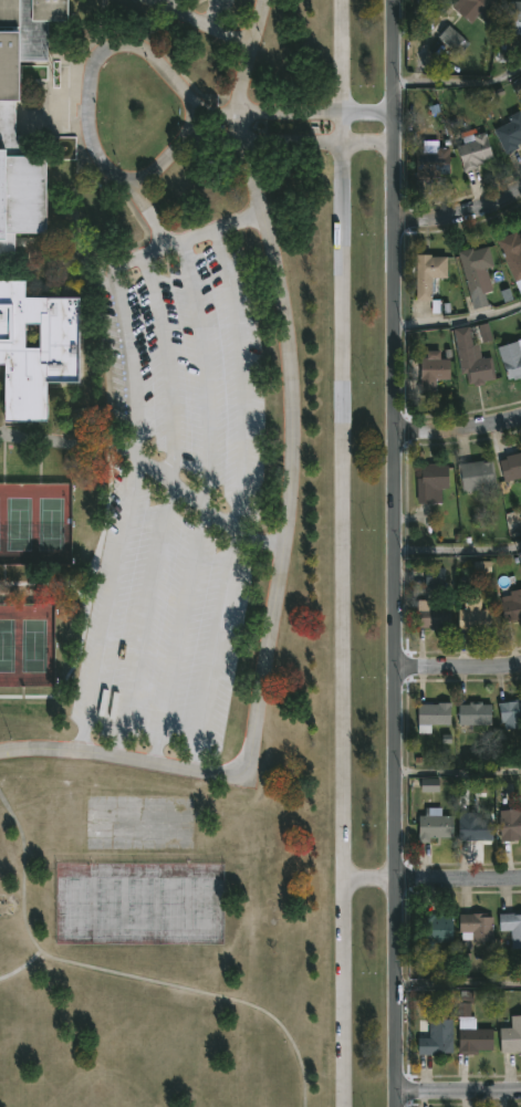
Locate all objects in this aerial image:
road: (174, 6)
building: (477, 7)
parking lot: (206, 13)
road: (207, 13)
building: (514, 17)
road: (199, 24)
building: (452, 39)
road: (395, 55)
road: (342, 72)
road: (458, 82)
road: (90, 101)
road: (291, 107)
building: (8, 118)
road: (183, 119)
building: (509, 133)
road: (260, 138)
road: (368, 145)
building: (472, 150)
building: (429, 161)
road: (147, 209)
road: (459, 217)
road: (192, 236)
building: (511, 252)
building: (473, 272)
building: (427, 276)
road: (459, 317)
building: (35, 351)
building: (470, 358)
building: (511, 358)
building: (430, 372)
road: (458, 428)
building: (510, 466)
road: (154, 472)
building: (475, 476)
building: (431, 481)
road: (242, 499)
parking lot: (178, 503)
road: (125, 510)
road: (294, 510)
park: (18, 525)
park: (50, 526)
road: (459, 557)
building: (435, 578)
road: (29, 582)
building: (511, 605)
road: (397, 609)
building: (472, 615)
building: (430, 617)
road: (344, 625)
park: (7, 648)
park: (33, 648)
road: (458, 666)
building: (433, 712)
building: (510, 712)
building: (472, 713)
road: (155, 728)
road: (157, 746)
road: (458, 773)
building: (510, 823)
building: (434, 824)
building: (473, 828)
road: (434, 879)
park: (173, 900)
park: (72, 901)
park: (139, 901)
park: (207, 901)
park: (106, 902)
building: (476, 926)
building: (511, 927)
building: (431, 930)
road: (21, 964)
road: (124, 974)
road: (458, 984)
building: (510, 1035)
building: (436, 1037)
building: (471, 1037)
road: (458, 1093)
park: (104, 1094)

